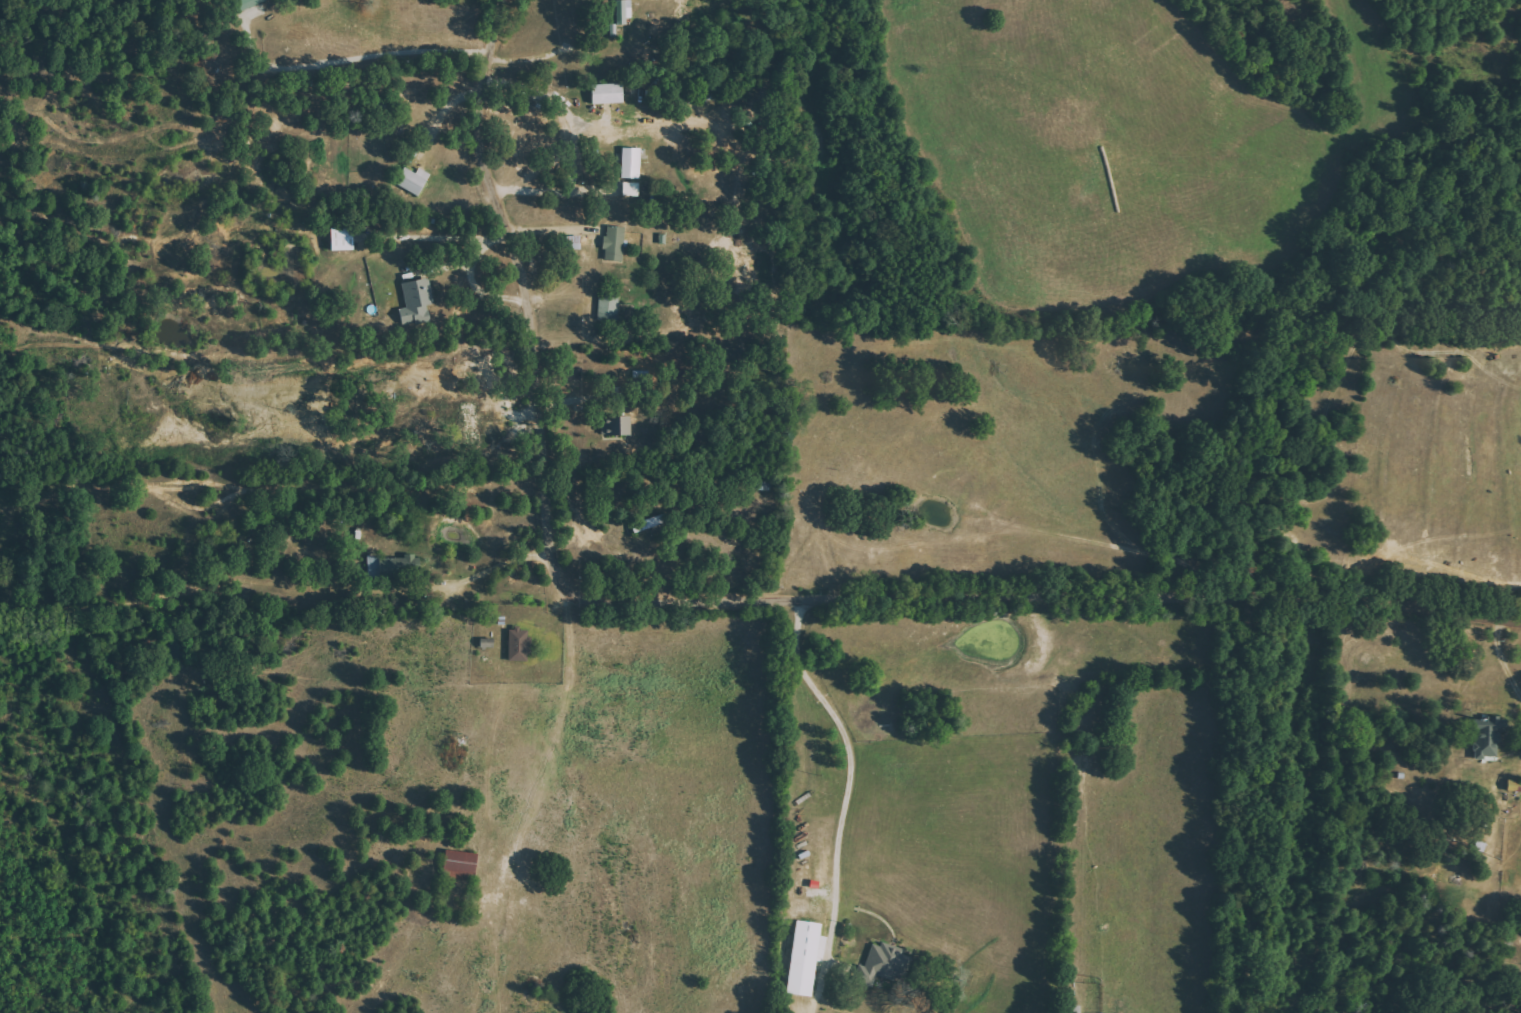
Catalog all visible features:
building: (622, 12)
building: (606, 94)
road: (577, 144)
building: (631, 163)
building: (412, 180)
building: (631, 189)
building: (341, 239)
building: (613, 244)
building: (416, 302)
building: (608, 306)
building: (617, 427)
road: (492, 572)
road: (740, 601)
building: (518, 644)
building: (1486, 737)
road: (856, 777)
building: (1514, 785)
building: (803, 958)
building: (880, 964)

